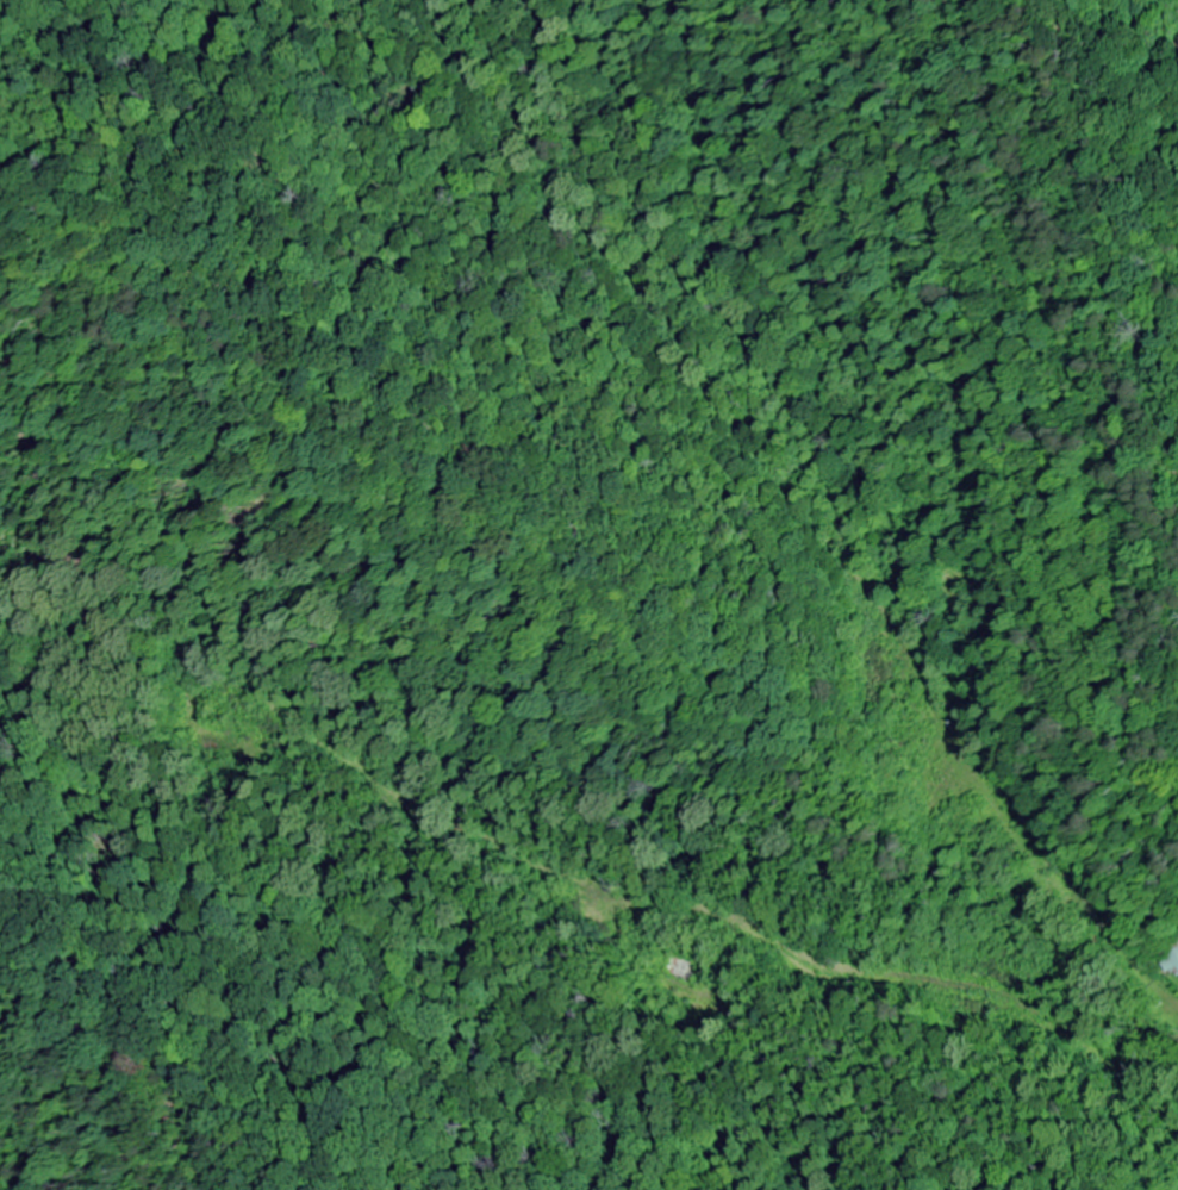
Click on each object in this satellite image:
building: (1170, 958)
building: (687, 967)

